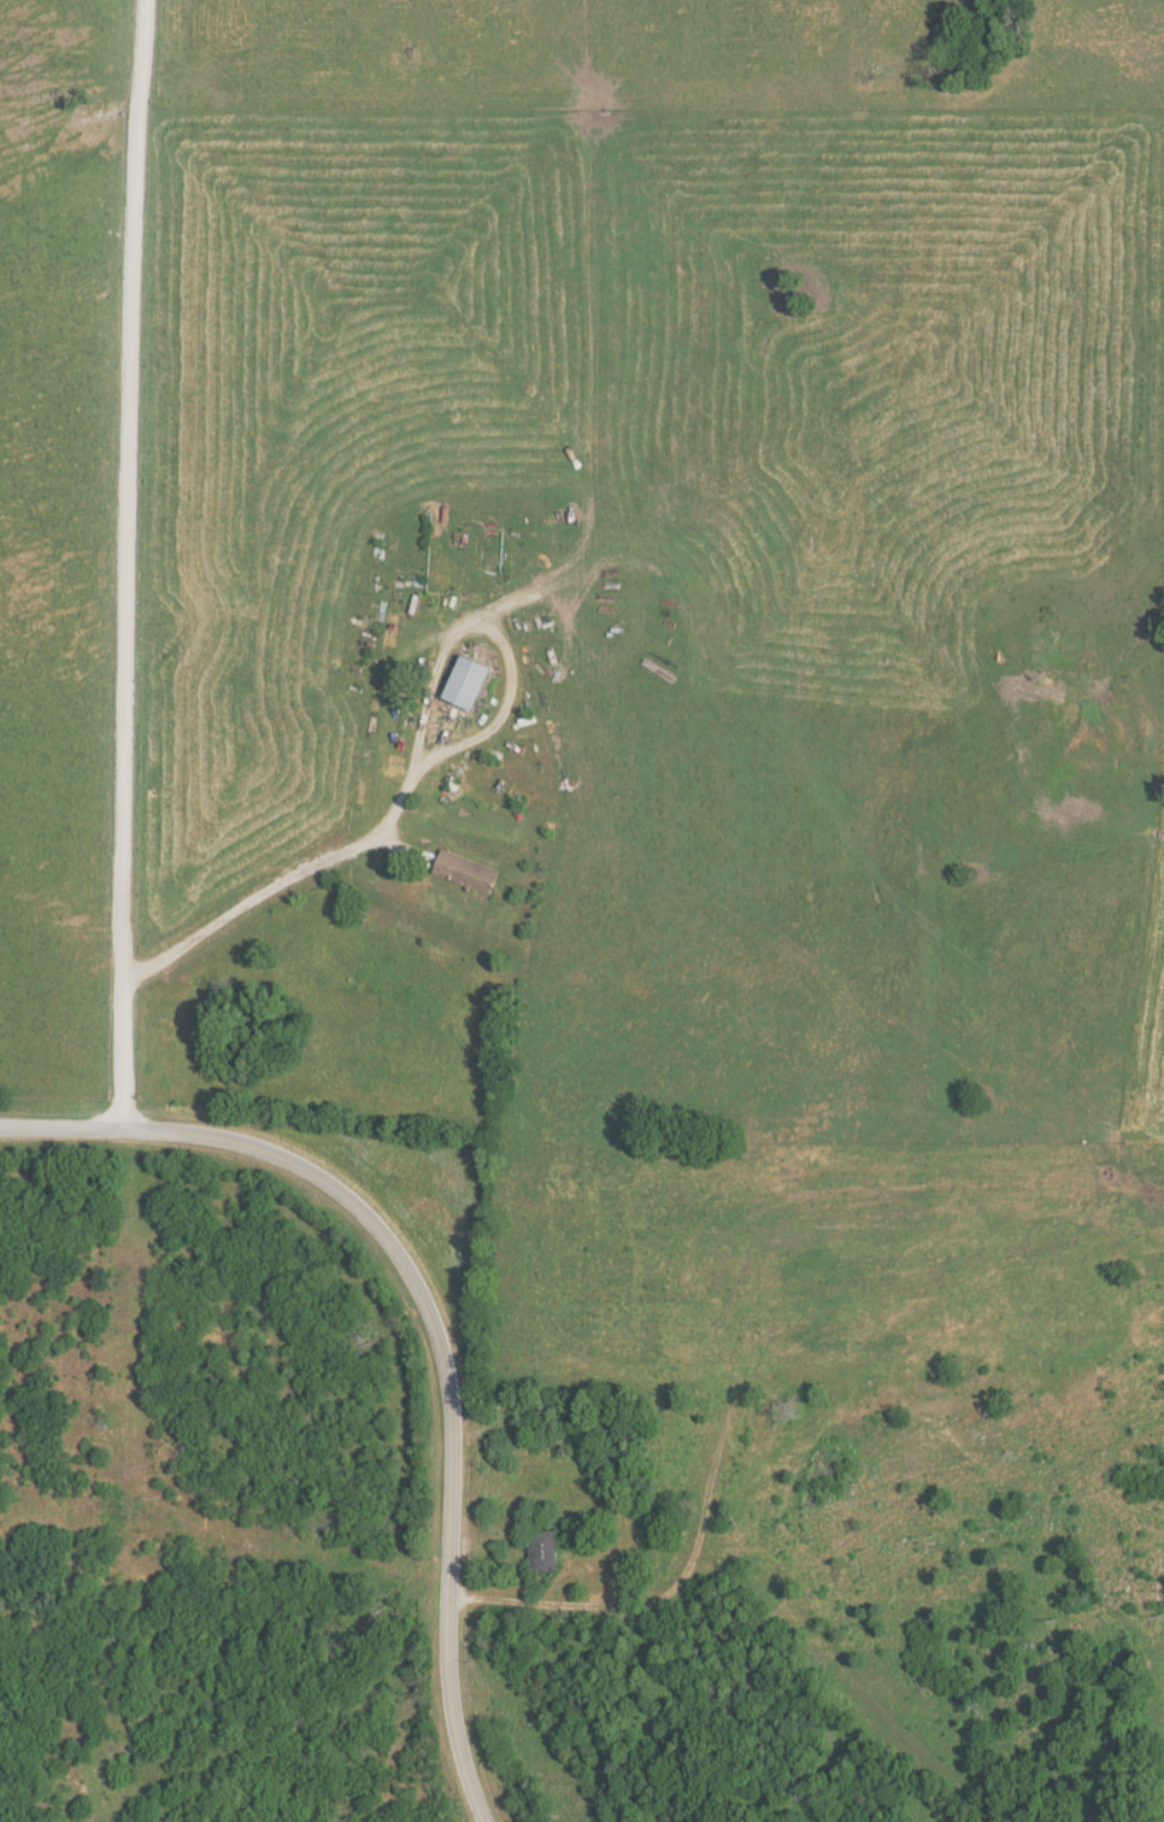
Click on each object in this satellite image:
road: (129, 564)
road: (449, 640)
building: (468, 684)
building: (465, 873)
road: (284, 878)
road: (433, 1316)
building: (543, 1553)
road: (539, 1607)

